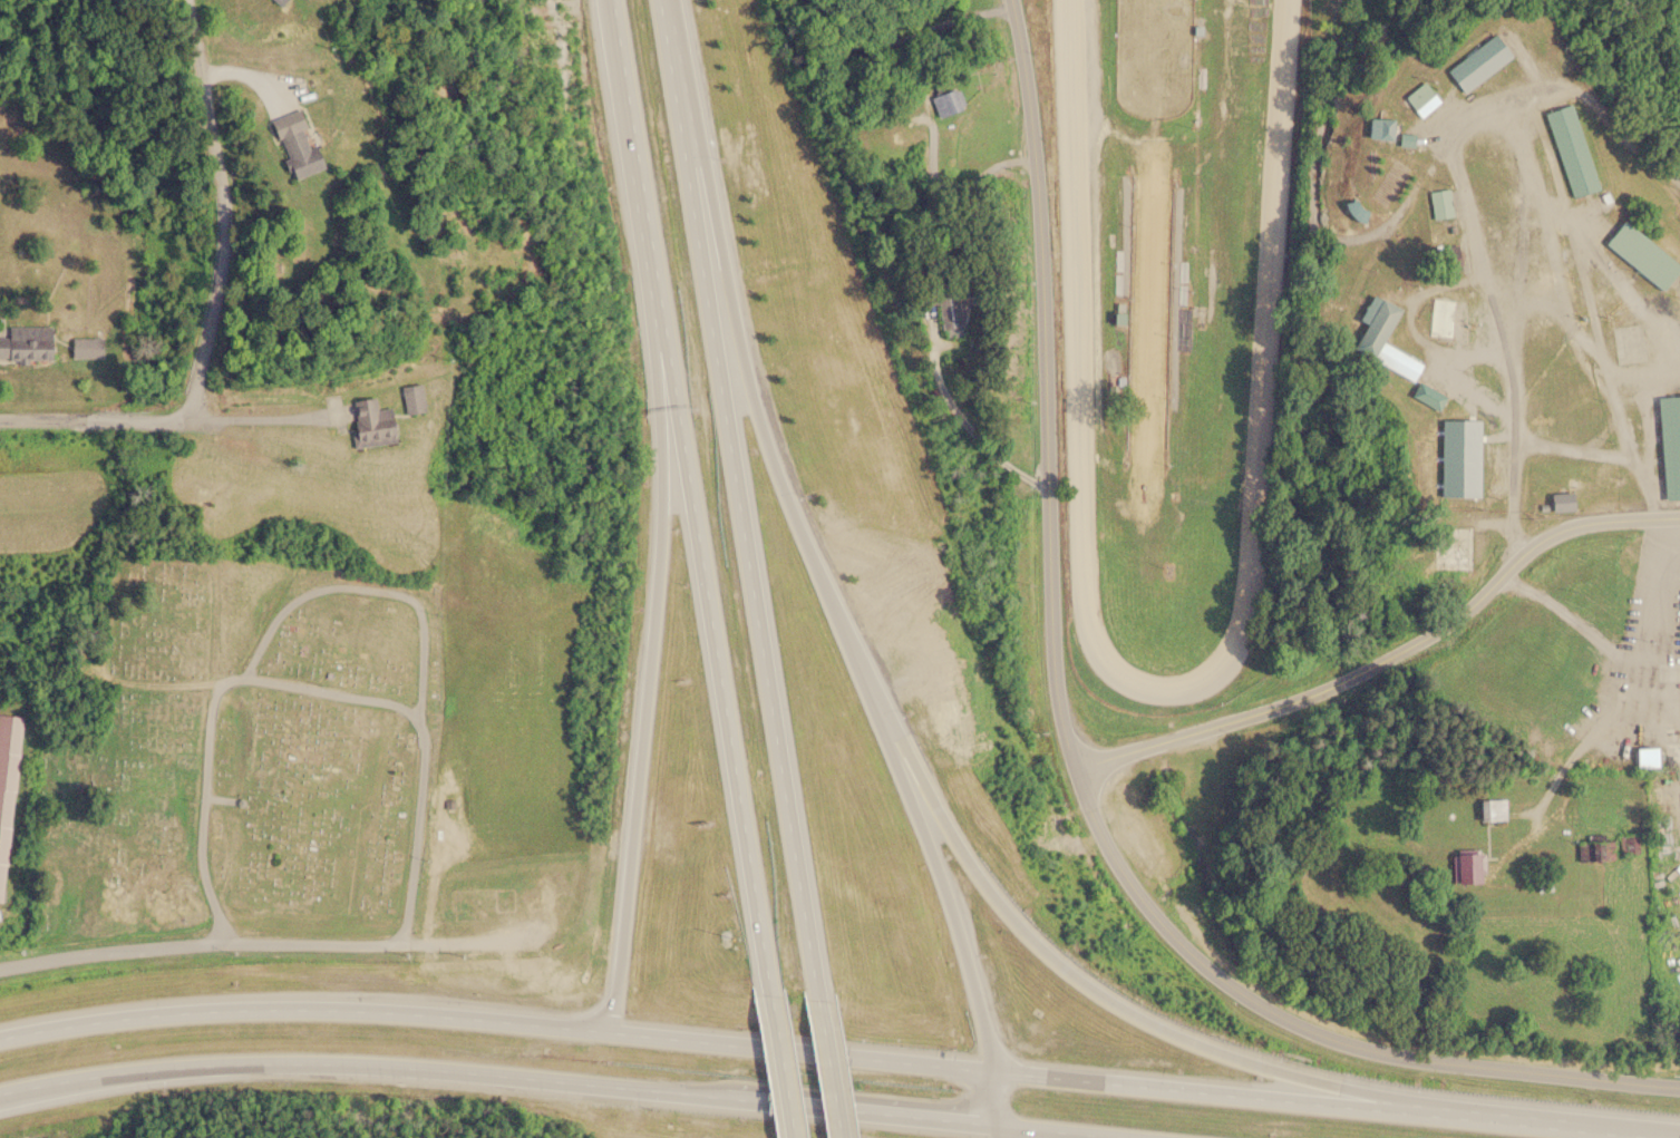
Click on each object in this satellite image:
building: (270, 1)
building: (1475, 62)
building: (1418, 99)
building: (942, 101)
road: (690, 126)
building: (1376, 128)
building: (288, 144)
building: (1569, 150)
building: (1439, 203)
road: (223, 210)
road: (1470, 211)
building: (1640, 255)
building: (1444, 259)
building: (1679, 282)
building: (1441, 312)
building: (1380, 339)
building: (26, 342)
building: (86, 348)
building: (1427, 396)
building: (409, 398)
road: (95, 418)
building: (368, 422)
building: (1673, 441)
road: (698, 498)
building: (1561, 502)
road: (1592, 523)
building: (1454, 547)
road: (1567, 621)
road: (771, 629)
road: (301, 684)
road: (1639, 688)
road: (1310, 692)
road: (652, 696)
park: (305, 731)
road: (1068, 750)
building: (1633, 750)
building: (7, 778)
building: (1492, 809)
road: (926, 810)
building: (1466, 867)
building: (478, 902)
road: (962, 920)
road: (200, 944)
road: (498, 1019)
road: (788, 1068)
road: (842, 1071)
road: (546, 1081)
road: (1208, 1088)
road: (999, 1102)
road: (1548, 1121)

